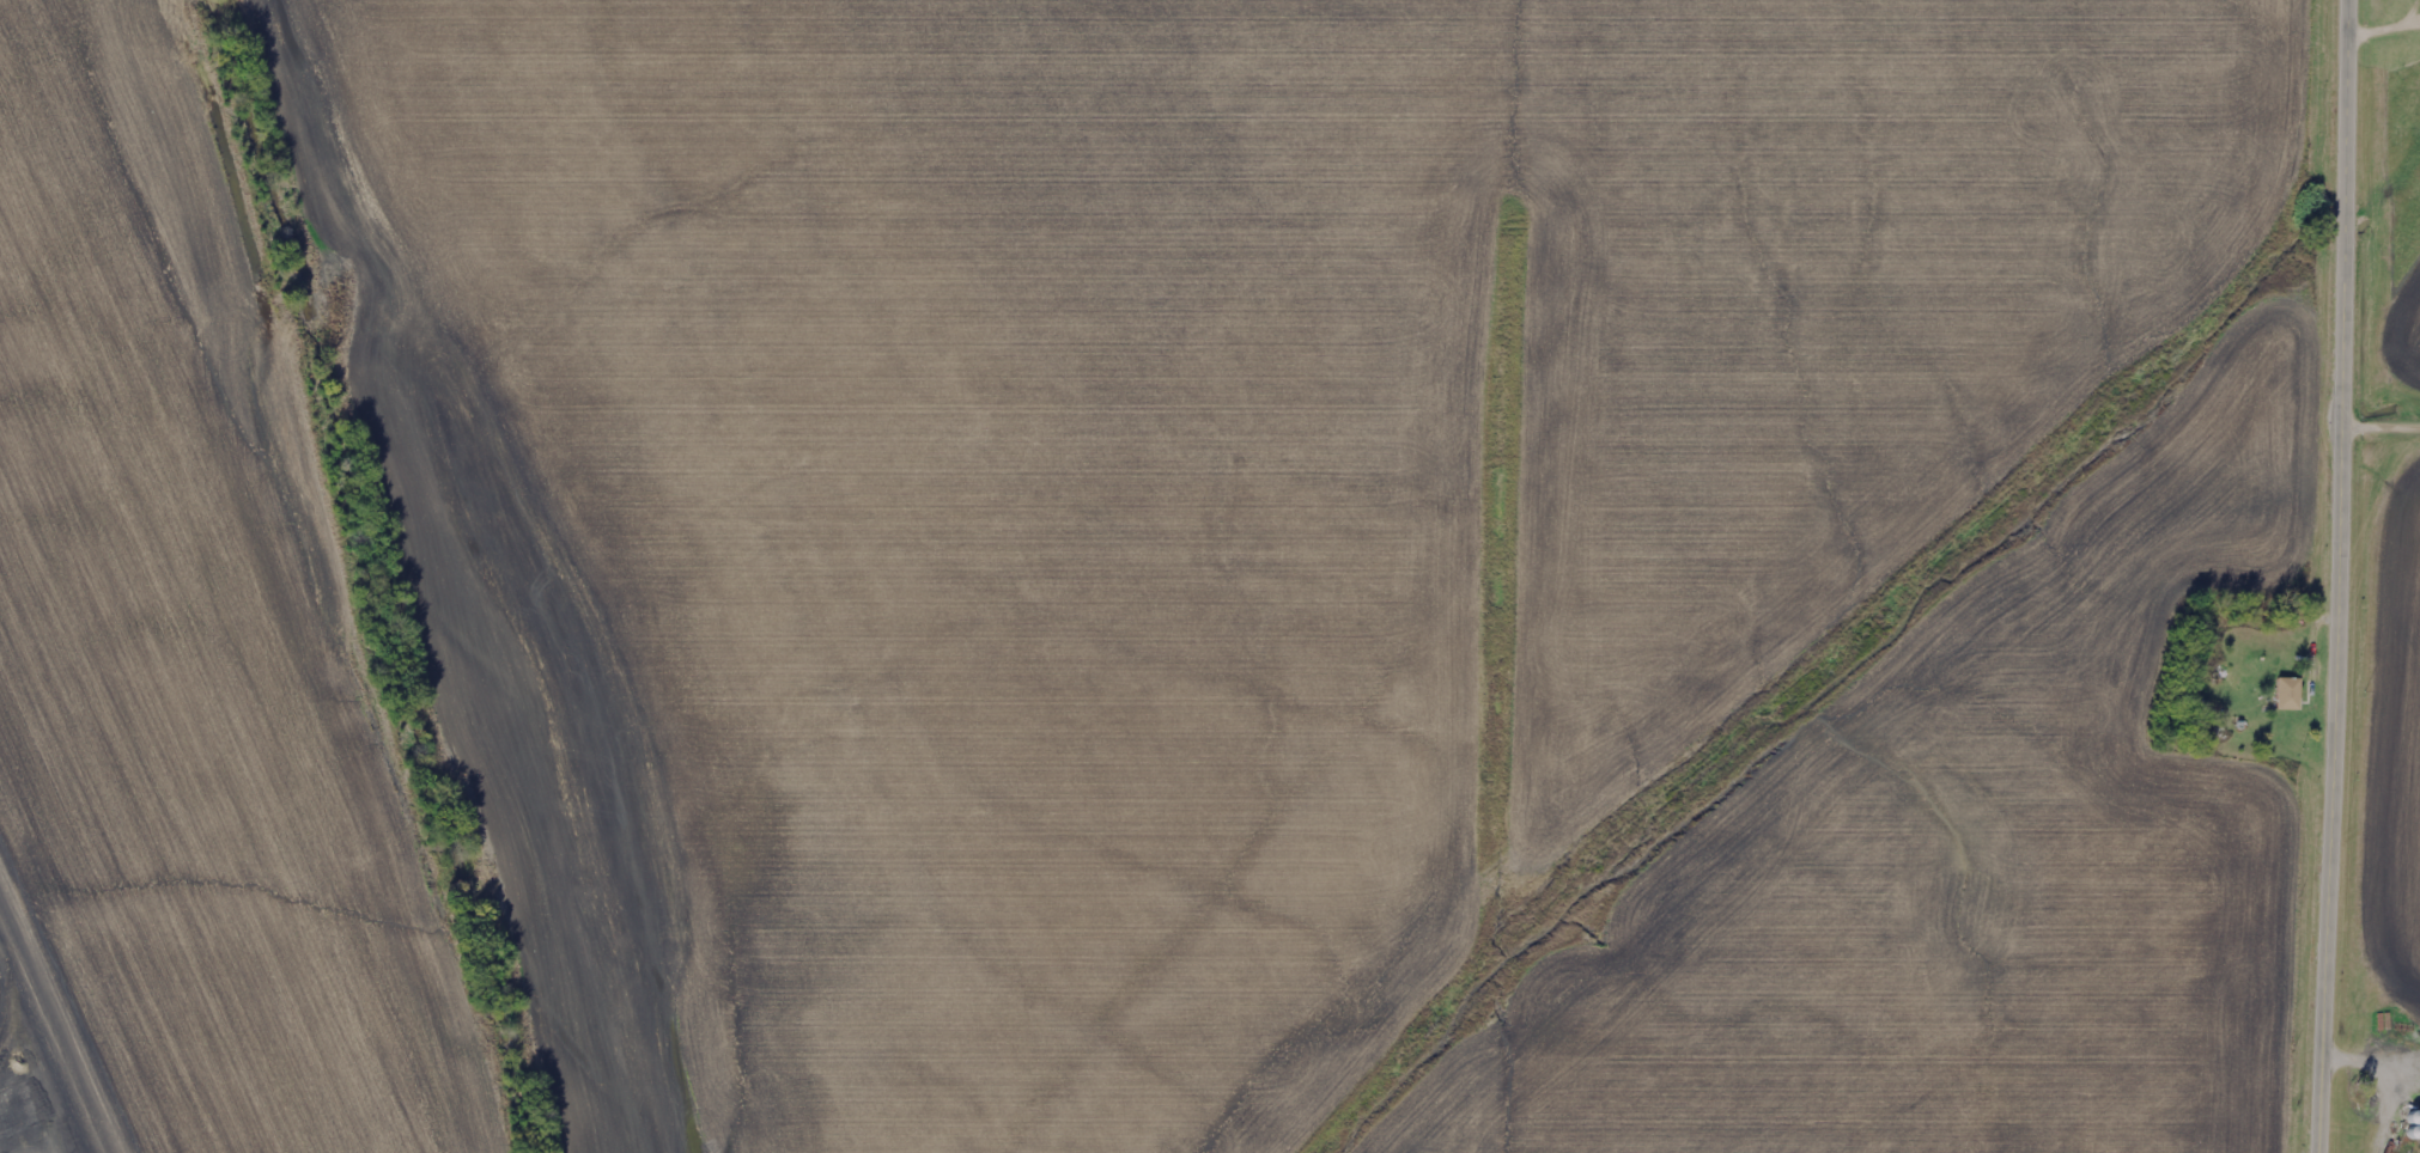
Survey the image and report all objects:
road: (2383, 432)
road: (2343, 576)
building: (2292, 695)

